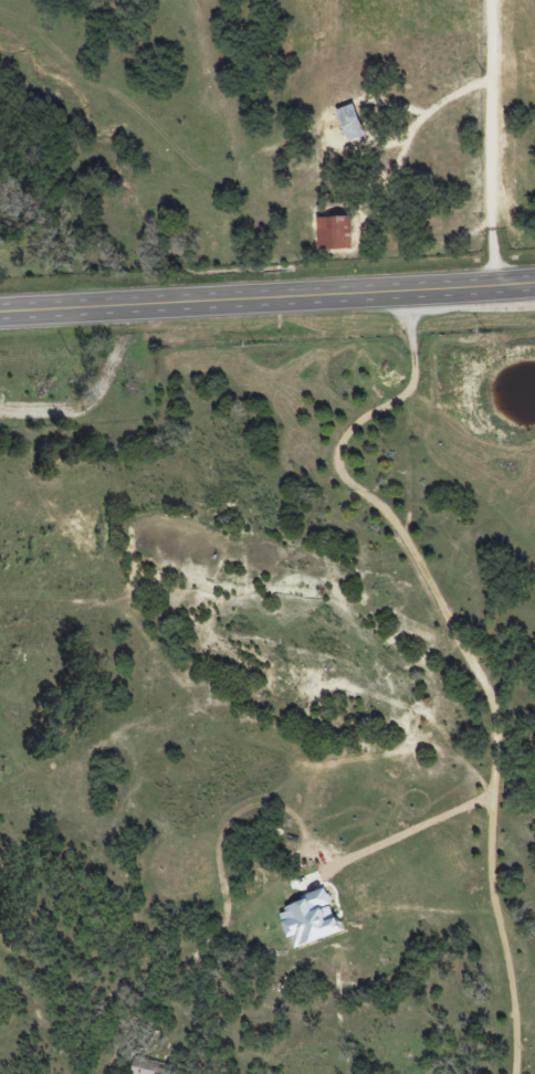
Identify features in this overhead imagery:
road: (490, 141)
road: (266, 296)
road: (450, 646)
road: (400, 831)
building: (145, 1066)

